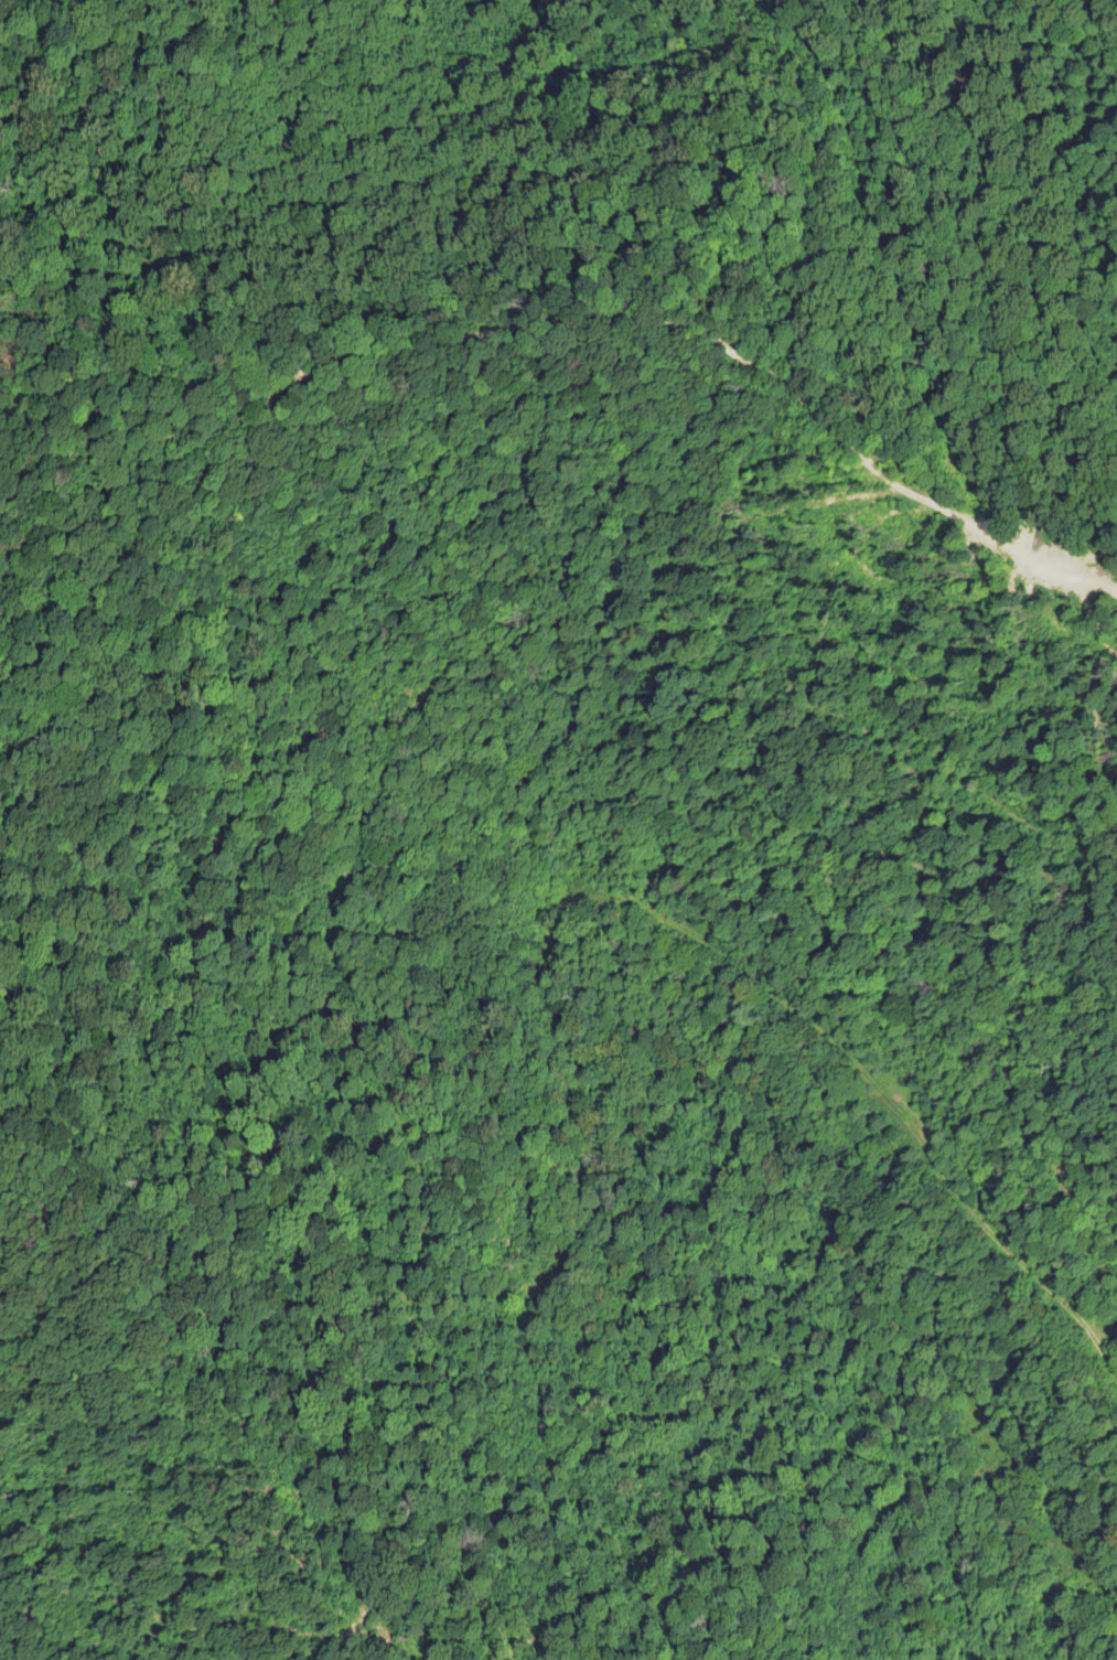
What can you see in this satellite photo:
road: (1038, 1271)

